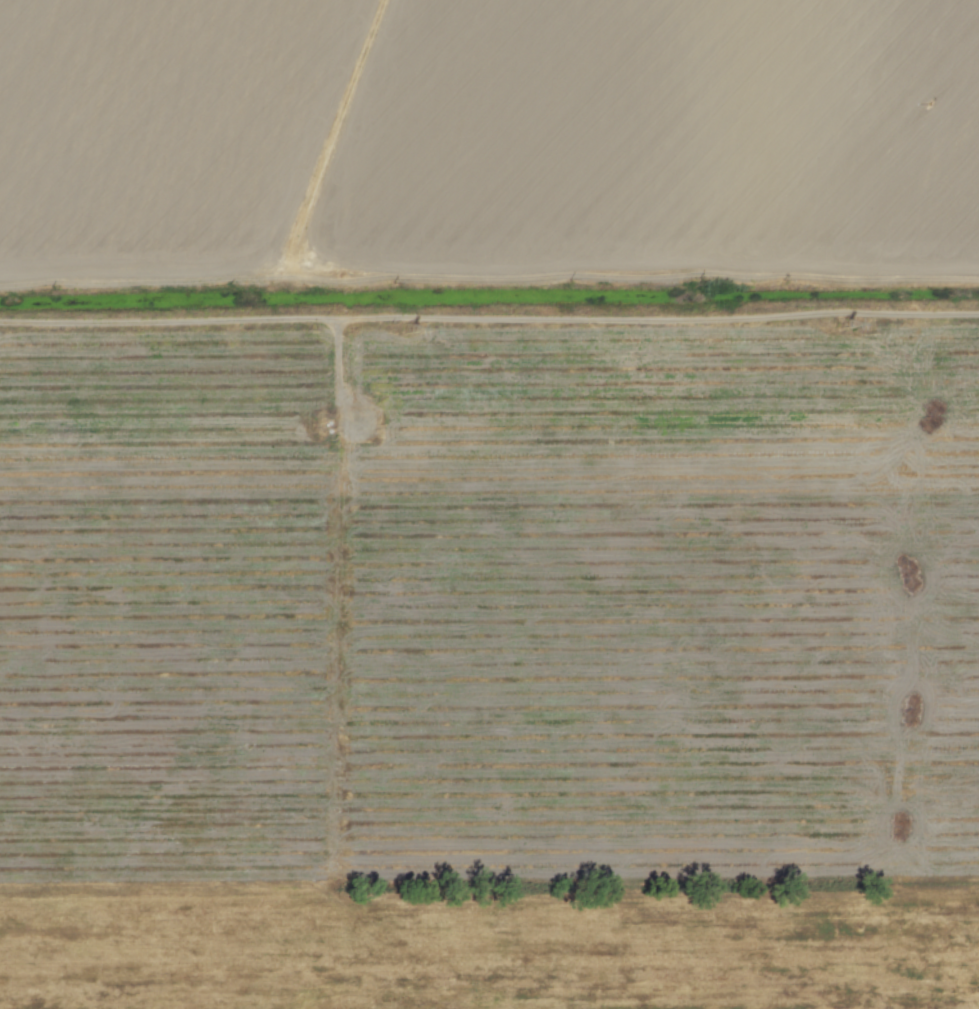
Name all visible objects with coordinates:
crop: (487, 140)
road: (489, 310)
power tower: (843, 324)
power tower: (408, 328)

